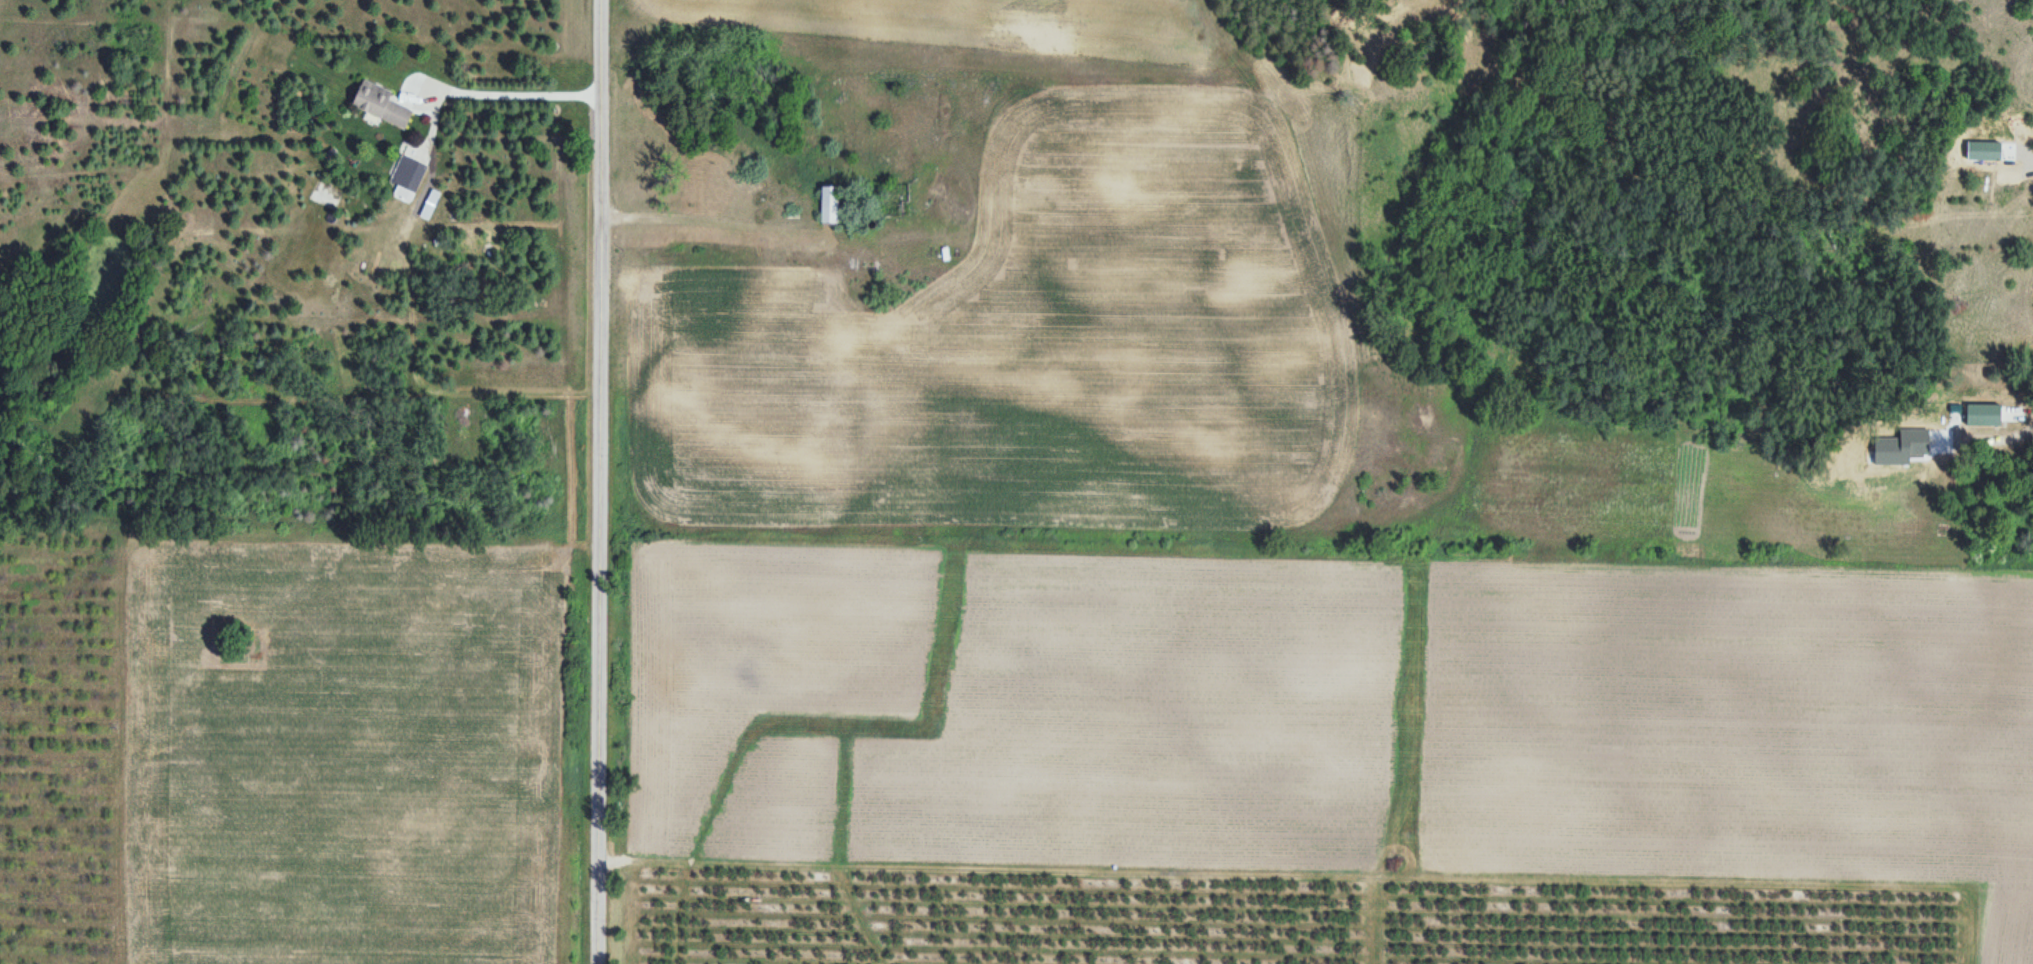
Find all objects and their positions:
building: (379, 105)
building: (408, 179)
building: (827, 203)
road: (584, 481)

